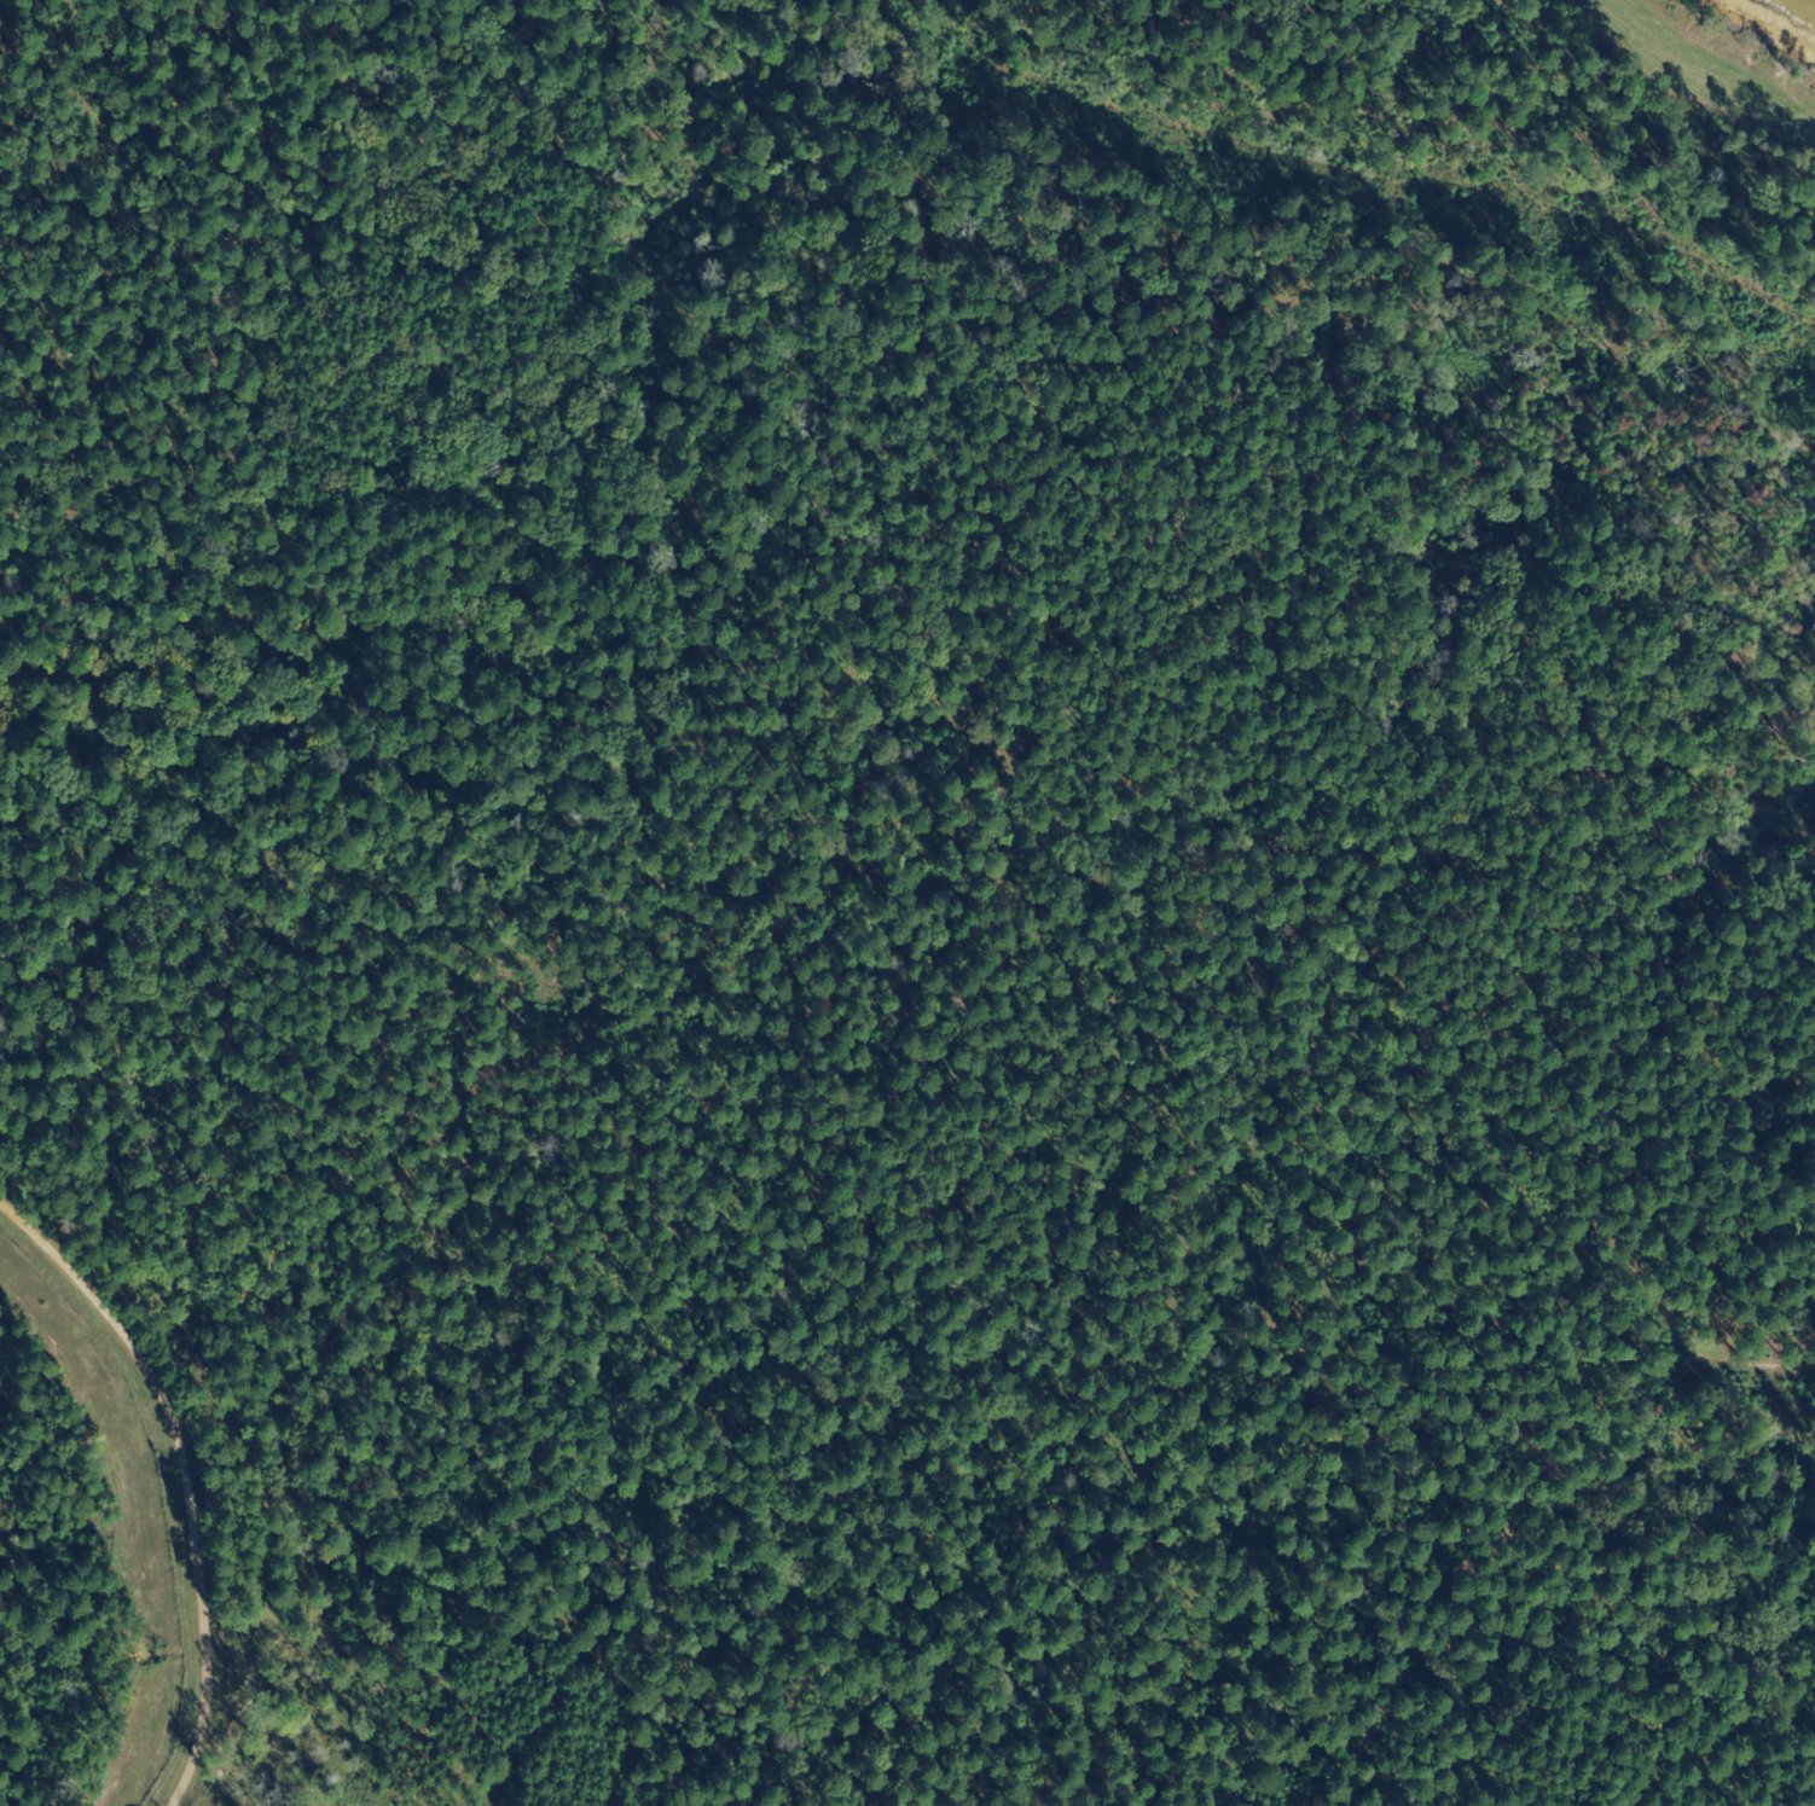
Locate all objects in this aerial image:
road: (204, 1461)

